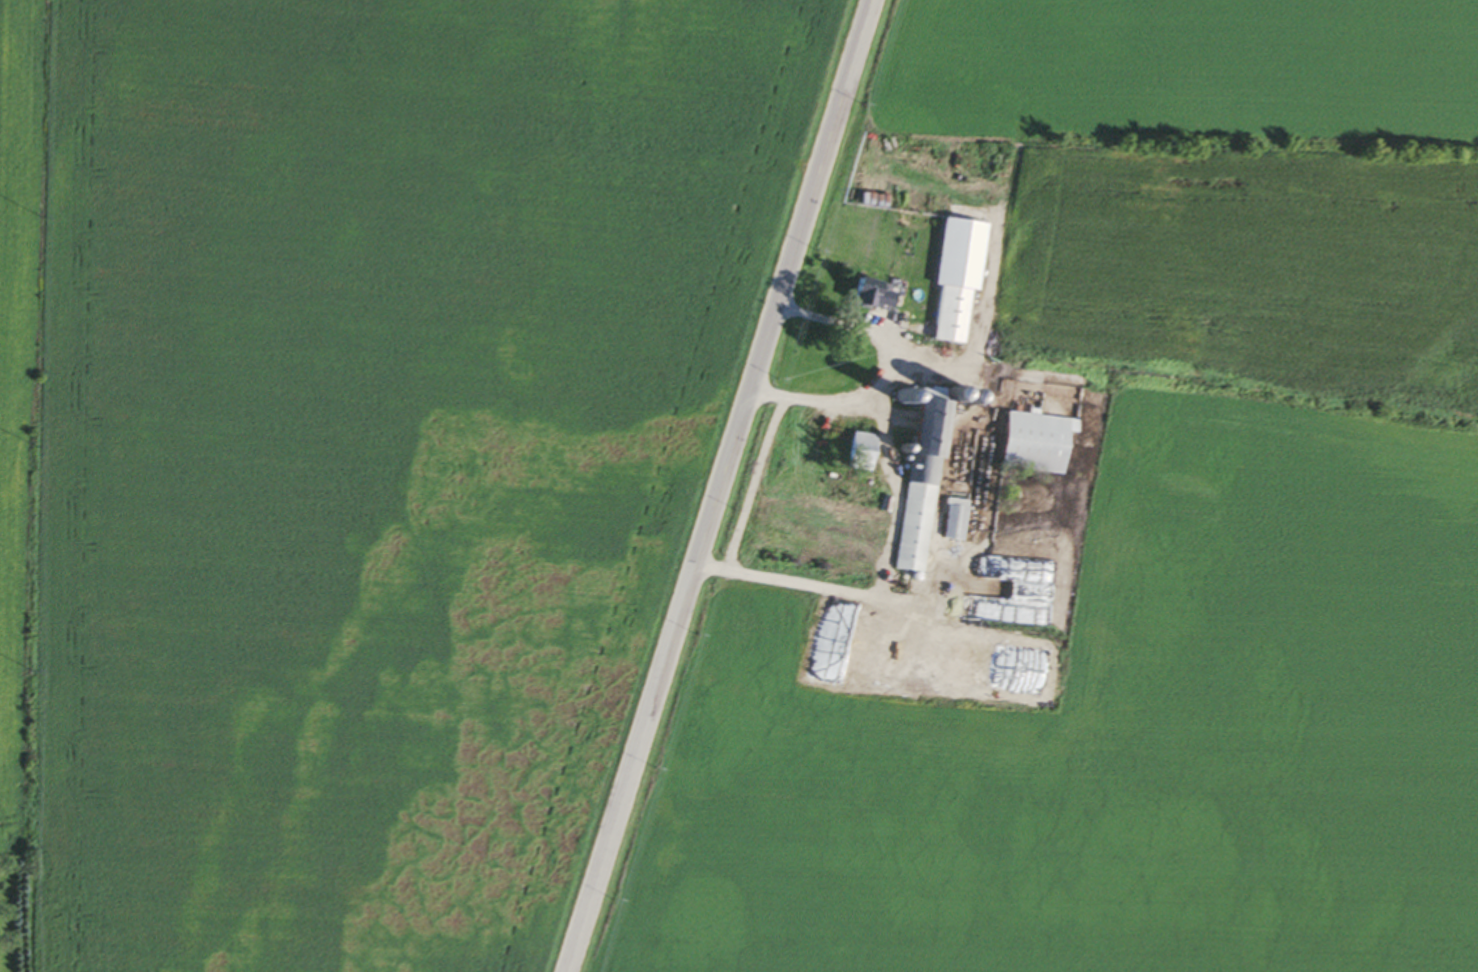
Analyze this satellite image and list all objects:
building: (949, 277)
building: (863, 296)
road: (864, 326)
building: (1029, 442)
building: (854, 451)
building: (918, 474)
road: (754, 477)
road: (720, 485)
building: (949, 519)
road: (887, 526)
building: (999, 593)

